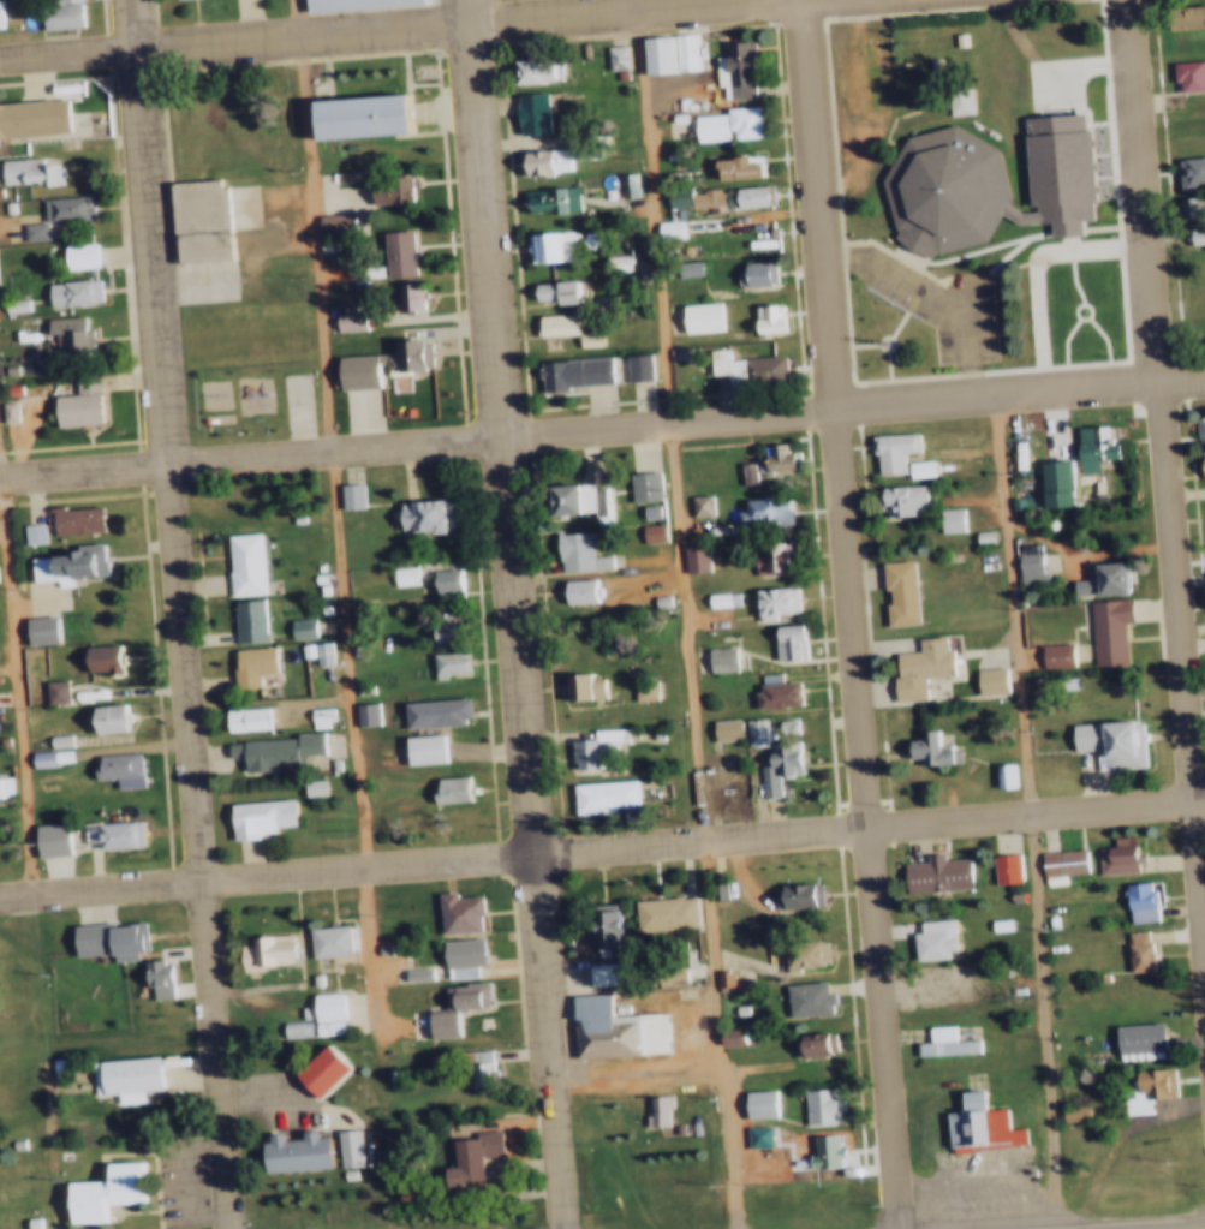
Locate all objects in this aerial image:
building: (350, 4)
road: (590, 10)
building: (58, 13)
building: (1187, 16)
road: (232, 40)
building: (954, 40)
building: (678, 50)
building: (651, 53)
building: (610, 56)
building: (621, 56)
building: (929, 64)
building: (736, 68)
building: (529, 71)
building: (1187, 73)
building: (962, 101)
parking lot: (849, 102)
building: (527, 112)
building: (358, 115)
building: (30, 117)
building: (1191, 117)
building: (722, 124)
building: (554, 155)
building: (736, 168)
building: (26, 171)
building: (1187, 171)
building: (982, 184)
building: (622, 185)
building: (384, 191)
building: (704, 193)
building: (673, 196)
building: (742, 197)
building: (545, 198)
building: (58, 205)
building: (1185, 207)
building: (196, 221)
building: (328, 221)
building: (663, 228)
building: (674, 229)
building: (28, 231)
building: (756, 231)
building: (1194, 234)
building: (321, 244)
building: (545, 245)
building: (393, 252)
building: (74, 255)
building: (612, 263)
building: (685, 267)
building: (751, 275)
building: (553, 291)
building: (68, 292)
building: (1074, 296)
building: (404, 297)
building: (1201, 297)
building: (10, 304)
parking lot: (923, 305)
building: (696, 317)
building: (342, 318)
building: (764, 318)
building: (550, 323)
building: (65, 334)
building: (583, 338)
building: (352, 366)
building: (632, 366)
building: (744, 368)
building: (568, 371)
building: (5, 386)
park: (243, 398)
park: (286, 401)
building: (74, 402)
building: (2, 408)
road: (851, 410)
building: (1197, 432)
building: (1090, 446)
building: (887, 451)
road: (1163, 451)
building: (776, 455)
road: (249, 460)
building: (1200, 466)
building: (913, 467)
building: (739, 471)
building: (1049, 479)
building: (637, 484)
building: (344, 494)
building: (356, 494)
building: (572, 497)
building: (894, 500)
building: (694, 503)
building: (643, 508)
building: (758, 511)
building: (67, 515)
building: (422, 515)
road: (339, 518)
building: (944, 519)
building: (954, 520)
building: (24, 529)
building: (645, 530)
building: (38, 532)
building: (656, 532)
building: (978, 536)
building: (572, 550)
building: (687, 556)
building: (771, 556)
building: (699, 557)
building: (62, 560)
building: (237, 561)
building: (1021, 561)
building: (311, 565)
building: (310, 574)
building: (396, 574)
building: (1098, 578)
building: (441, 583)
building: (315, 586)
building: (572, 589)
building: (894, 592)
building: (652, 597)
building: (715, 597)
building: (770, 602)
building: (315, 605)
road: (179, 614)
road: (513, 614)
road: (688, 614)
road: (853, 614)
building: (240, 616)
building: (31, 625)
building: (292, 625)
building: (445, 626)
building: (306, 627)
building: (1103, 628)
building: (782, 640)
building: (299, 646)
building: (314, 649)
building: (327, 651)
building: (93, 652)
building: (1050, 652)
building: (714, 656)
building: (108, 657)
building: (255, 658)
building: (727, 658)
building: (443, 662)
building: (915, 664)
road: (17, 668)
building: (984, 679)
building: (1061, 681)
building: (43, 685)
building: (578, 687)
building: (637, 687)
building: (62, 690)
building: (649, 690)
building: (771, 693)
building: (357, 711)
building: (97, 712)
building: (311, 712)
building: (371, 712)
building: (433, 712)
building: (239, 715)
building: (326, 716)
building: (115, 717)
building: (779, 722)
building: (721, 727)
building: (748, 728)
building: (646, 730)
building: (48, 734)
building: (1106, 740)
building: (590, 745)
building: (267, 747)
building: (418, 747)
building: (50, 748)
building: (923, 748)
building: (30, 752)
building: (56, 757)
building: (326, 760)
building: (111, 763)
building: (774, 764)
building: (1008, 774)
building: (998, 775)
building: (717, 781)
building: (306, 784)
building: (445, 787)
building: (596, 793)
building: (250, 812)
road: (1031, 813)
road: (870, 828)
building: (111, 829)
building: (42, 833)
building: (1108, 854)
building: (1054, 860)
building: (1000, 866)
building: (929, 871)
road: (267, 878)
building: (791, 895)
building: (1131, 899)
building: (1145, 901)
building: (451, 909)
building: (656, 911)
building: (992, 921)
building: (99, 931)
building: (599, 931)
building: (320, 937)
building: (926, 937)
building: (374, 944)
building: (256, 947)
building: (1129, 947)
building: (797, 950)
building: (1144, 950)
building: (765, 951)
building: (455, 955)
building: (147, 970)
building: (165, 971)
building: (408, 971)
building: (597, 972)
building: (304, 973)
building: (663, 973)
building: (716, 977)
building: (734, 979)
building: (924, 979)
building: (1008, 985)
building: (938, 986)
building: (800, 995)
building: (448, 1004)
building: (294, 1006)
building: (732, 1006)
building: (334, 1007)
building: (318, 1008)
building: (1007, 1016)
building: (285, 1021)
building: (608, 1028)
building: (1131, 1034)
building: (936, 1038)
building: (810, 1044)
building: (44, 1057)
building: (312, 1066)
building: (472, 1066)
building: (65, 1068)
building: (113, 1068)
road: (639, 1070)
building: (1149, 1079)
building: (751, 1100)
building: (812, 1103)
building: (764, 1104)
building: (1066, 1108)
building: (651, 1109)
building: (663, 1112)
building: (973, 1123)
building: (750, 1133)
building: (763, 1135)
building: (339, 1141)
building: (354, 1146)
building: (286, 1147)
building: (817, 1150)
building: (465, 1156)
building: (336, 1168)
building: (91, 1185)
building: (111, 1193)
building: (18, 1213)
building: (292, 1225)
road: (1195, 1228)

